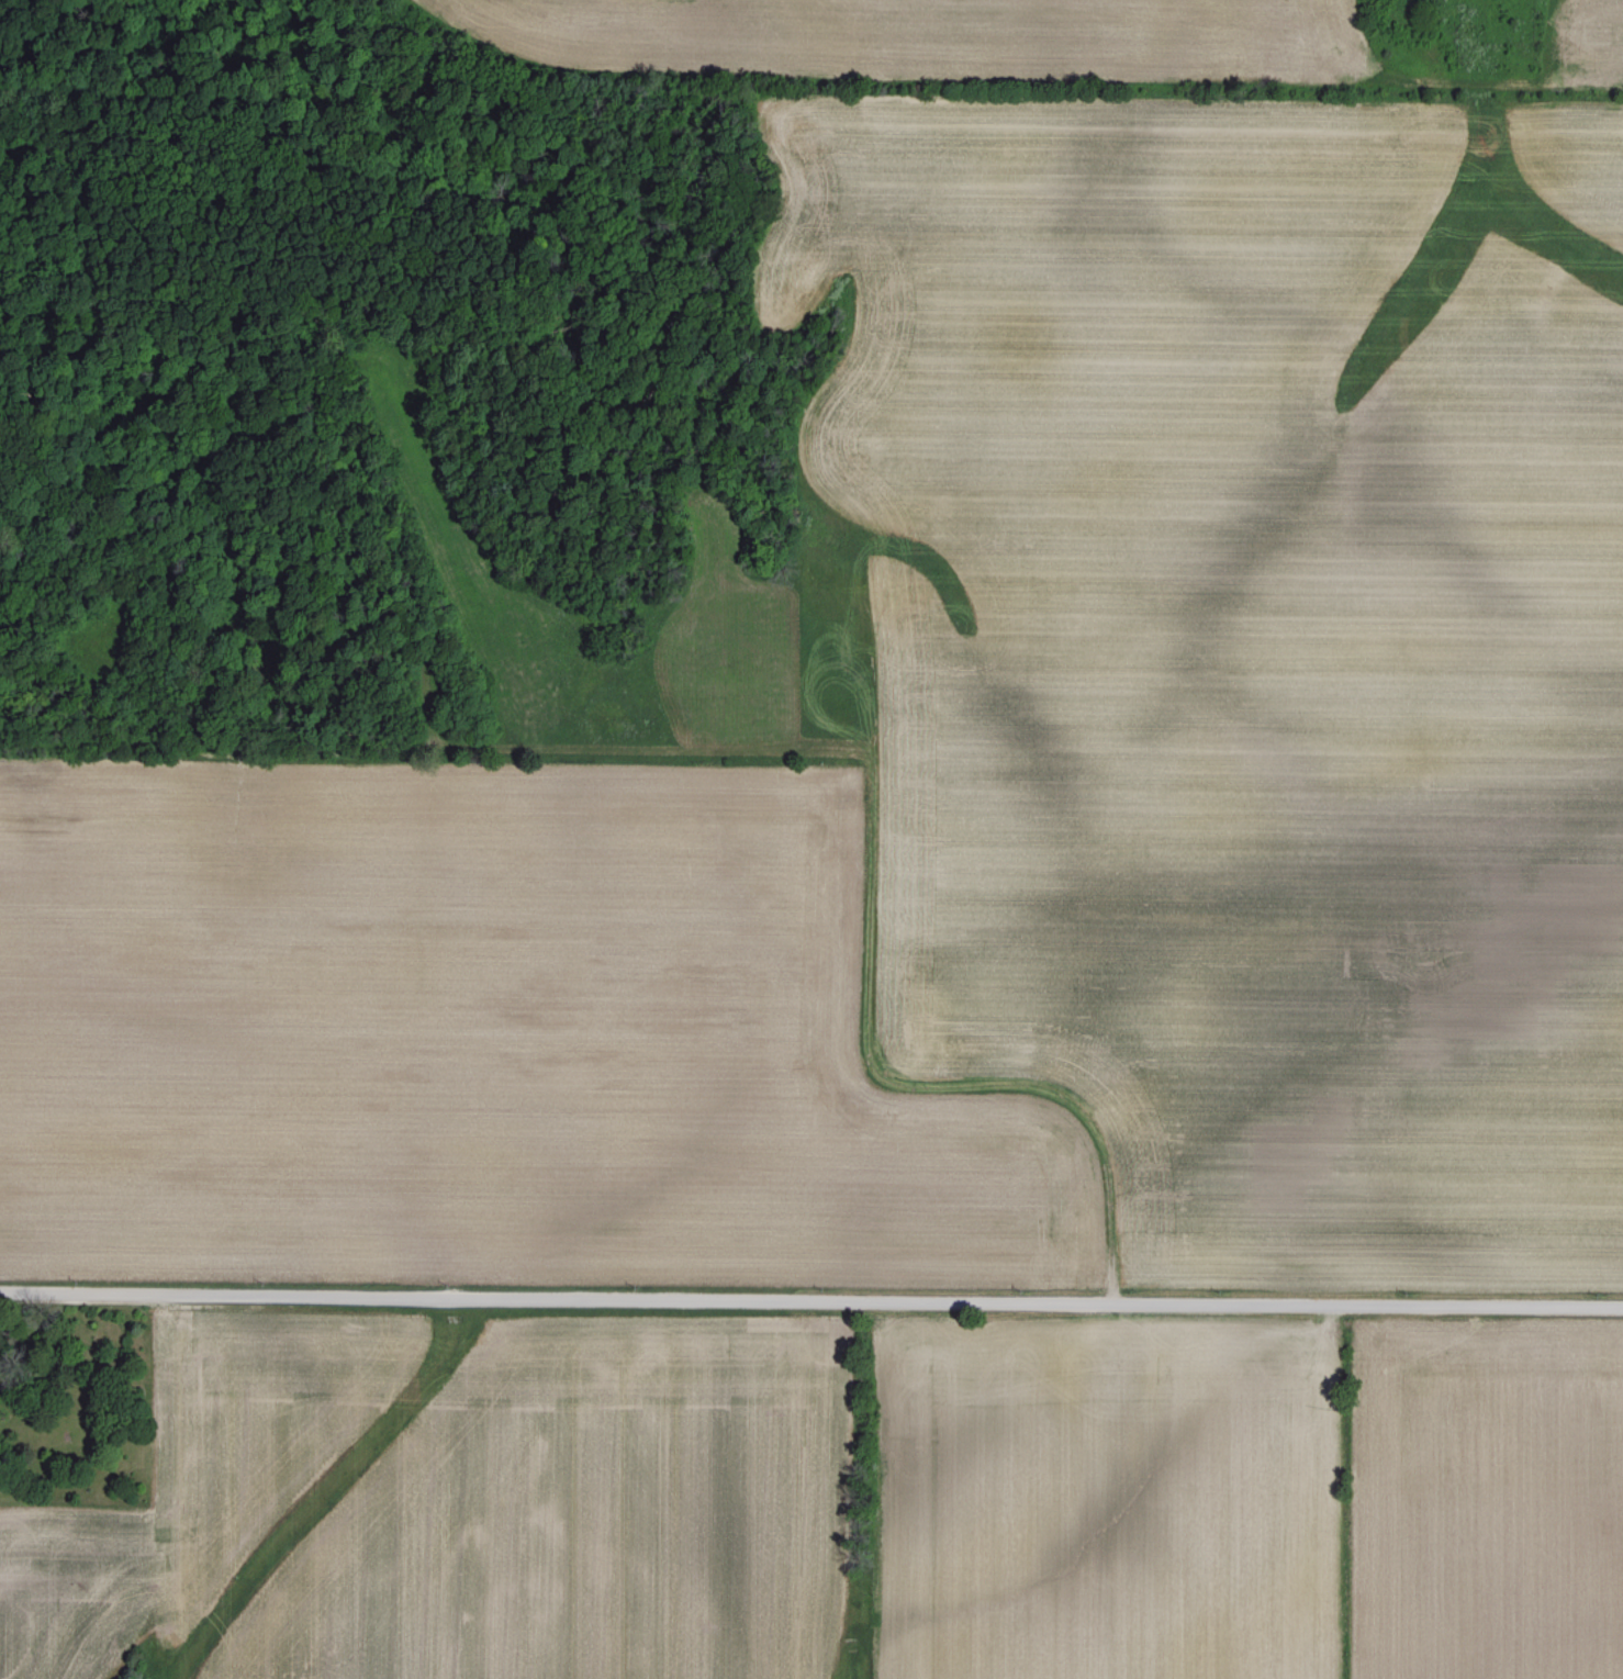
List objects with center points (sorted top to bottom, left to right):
road: (811, 1301)

